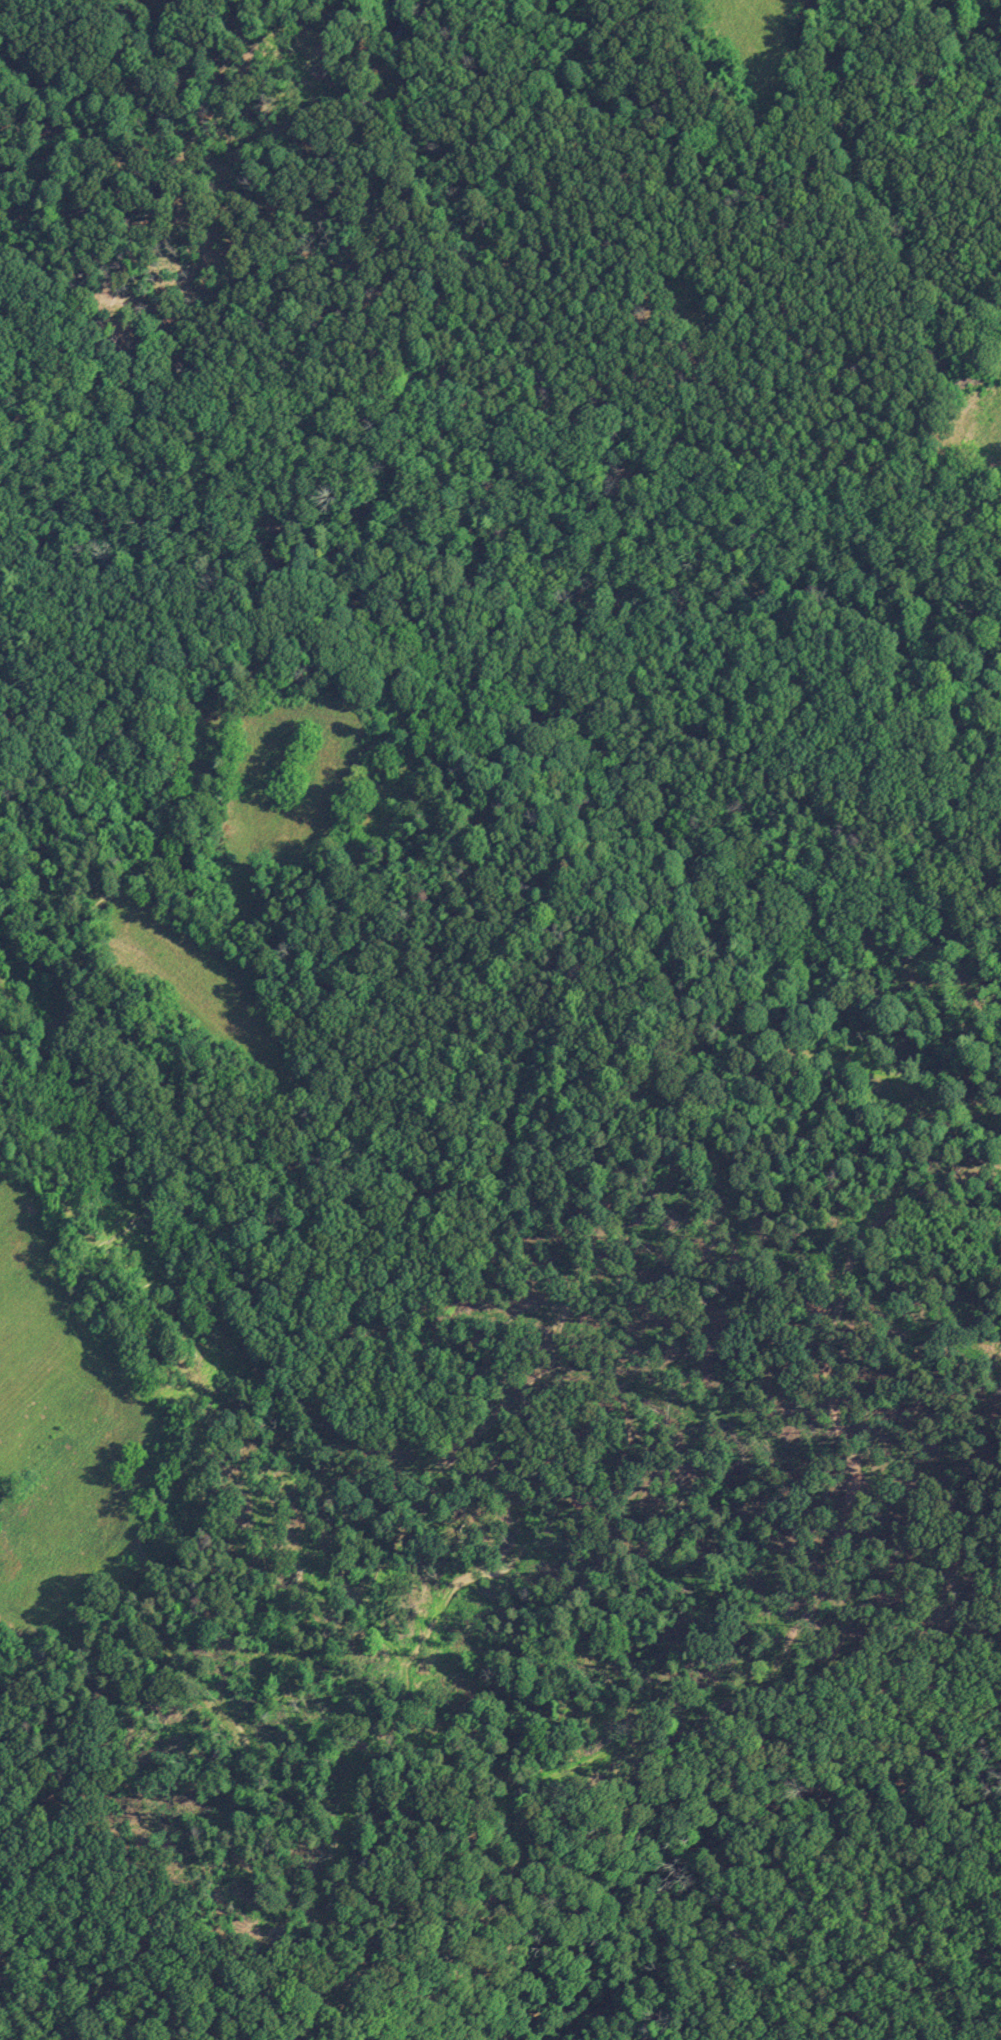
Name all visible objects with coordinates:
road: (394, 551)

